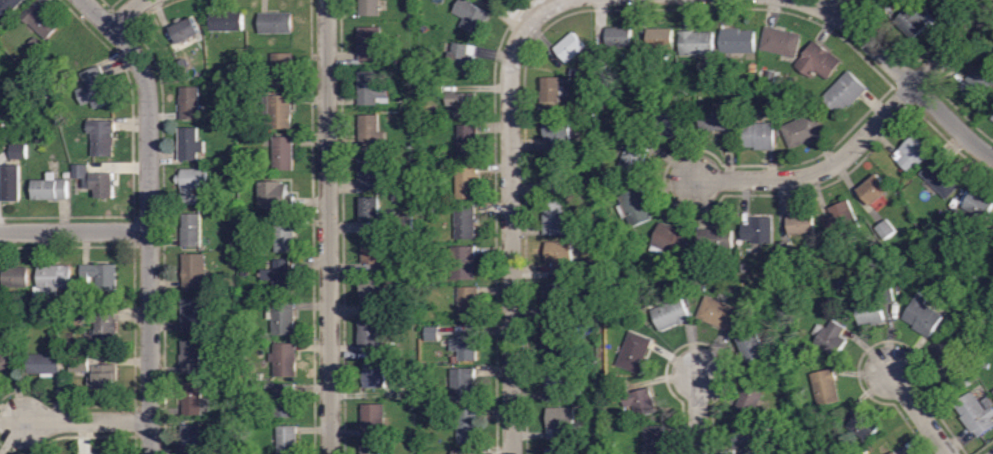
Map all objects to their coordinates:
building: (500, 0)
building: (504, 0)
building: (879, 1)
building: (940, 3)
building: (8, 7)
building: (370, 8)
road: (125, 13)
road: (539, 14)
building: (470, 16)
building: (915, 20)
building: (41, 21)
building: (226, 22)
building: (276, 24)
building: (423, 29)
building: (186, 31)
building: (618, 39)
building: (659, 40)
building: (737, 42)
building: (781, 43)
building: (33, 44)
building: (371, 44)
building: (696, 44)
road: (952, 47)
building: (569, 48)
building: (461, 60)
building: (601, 60)
building: (393, 62)
building: (643, 62)
building: (818, 62)
building: (184, 63)
building: (754, 68)
building: (283, 70)
building: (572, 72)
road: (901, 74)
building: (643, 76)
building: (772, 77)
building: (565, 81)
building: (978, 83)
building: (250, 86)
building: (94, 89)
building: (371, 90)
building: (551, 90)
building: (435, 91)
building: (844, 94)
building: (769, 98)
building: (190, 104)
building: (462, 105)
building: (571, 106)
building: (278, 112)
building: (715, 120)
building: (992, 120)
building: (671, 124)
building: (243, 127)
building: (802, 131)
building: (370, 133)
building: (557, 133)
building: (639, 133)
building: (758, 136)
building: (102, 138)
building: (467, 142)
building: (189, 145)
building: (18, 152)
building: (283, 154)
building: (421, 154)
building: (913, 154)
building: (634, 157)
building: (221, 159)
road: (819, 170)
building: (81, 171)
building: (372, 173)
building: (67, 176)
building: (551, 177)
building: (942, 179)
building: (243, 180)
building: (466, 182)
building: (414, 183)
building: (12, 184)
building: (192, 184)
building: (103, 185)
building: (51, 189)
building: (874, 190)
building: (624, 191)
building: (277, 196)
building: (978, 207)
building: (634, 208)
building: (370, 210)
road: (148, 215)
building: (554, 219)
building: (841, 219)
building: (261, 221)
building: (465, 223)
building: (404, 224)
building: (801, 225)
road: (328, 227)
road: (74, 229)
building: (573, 230)
building: (885, 230)
building: (191, 231)
building: (758, 231)
building: (926, 233)
building: (284, 236)
building: (714, 241)
building: (411, 242)
building: (670, 242)
building: (936, 244)
road: (510, 245)
building: (372, 252)
building: (785, 253)
building: (435, 254)
building: (234, 256)
building: (559, 256)
building: (462, 263)
building: (981, 265)
building: (820, 266)
building: (744, 267)
building: (194, 272)
building: (698, 272)
building: (245, 274)
building: (100, 277)
building: (280, 277)
building: (593, 277)
building: (16, 278)
building: (53, 281)
building: (835, 288)
building: (622, 289)
building: (987, 289)
building: (371, 293)
building: (888, 296)
building: (1, 299)
building: (556, 300)
building: (468, 304)
building: (69, 307)
building: (872, 313)
building: (671, 315)
building: (720, 315)
building: (195, 316)
building: (923, 317)
building: (282, 318)
building: (101, 330)
building: (370, 334)
building: (432, 334)
building: (266, 337)
building: (831, 338)
building: (56, 340)
building: (553, 341)
building: (70, 343)
building: (752, 347)
building: (466, 348)
building: (634, 353)
building: (946, 357)
building: (190, 358)
building: (455, 360)
building: (283, 361)
building: (7, 363)
building: (778, 364)
building: (45, 365)
building: (79, 365)
building: (983, 366)
building: (374, 376)
building: (105, 377)
building: (412, 383)
building: (554, 383)
building: (270, 384)
building: (463, 385)
building: (825, 387)
building: (575, 397)
building: (751, 398)
building: (195, 400)
building: (285, 401)
building: (640, 402)
building: (986, 402)
road: (920, 412)
road: (696, 413)
building: (782, 415)
building: (975, 416)
road: (85, 420)
building: (373, 421)
building: (559, 424)
building: (228, 427)
building: (468, 427)
building: (766, 427)
building: (863, 427)
building: (192, 439)
building: (288, 440)
building: (654, 440)
building: (747, 440)
building: (610, 444)
building: (370, 450)
building: (466, 452)
building: (555, 452)
building: (895, 453)

